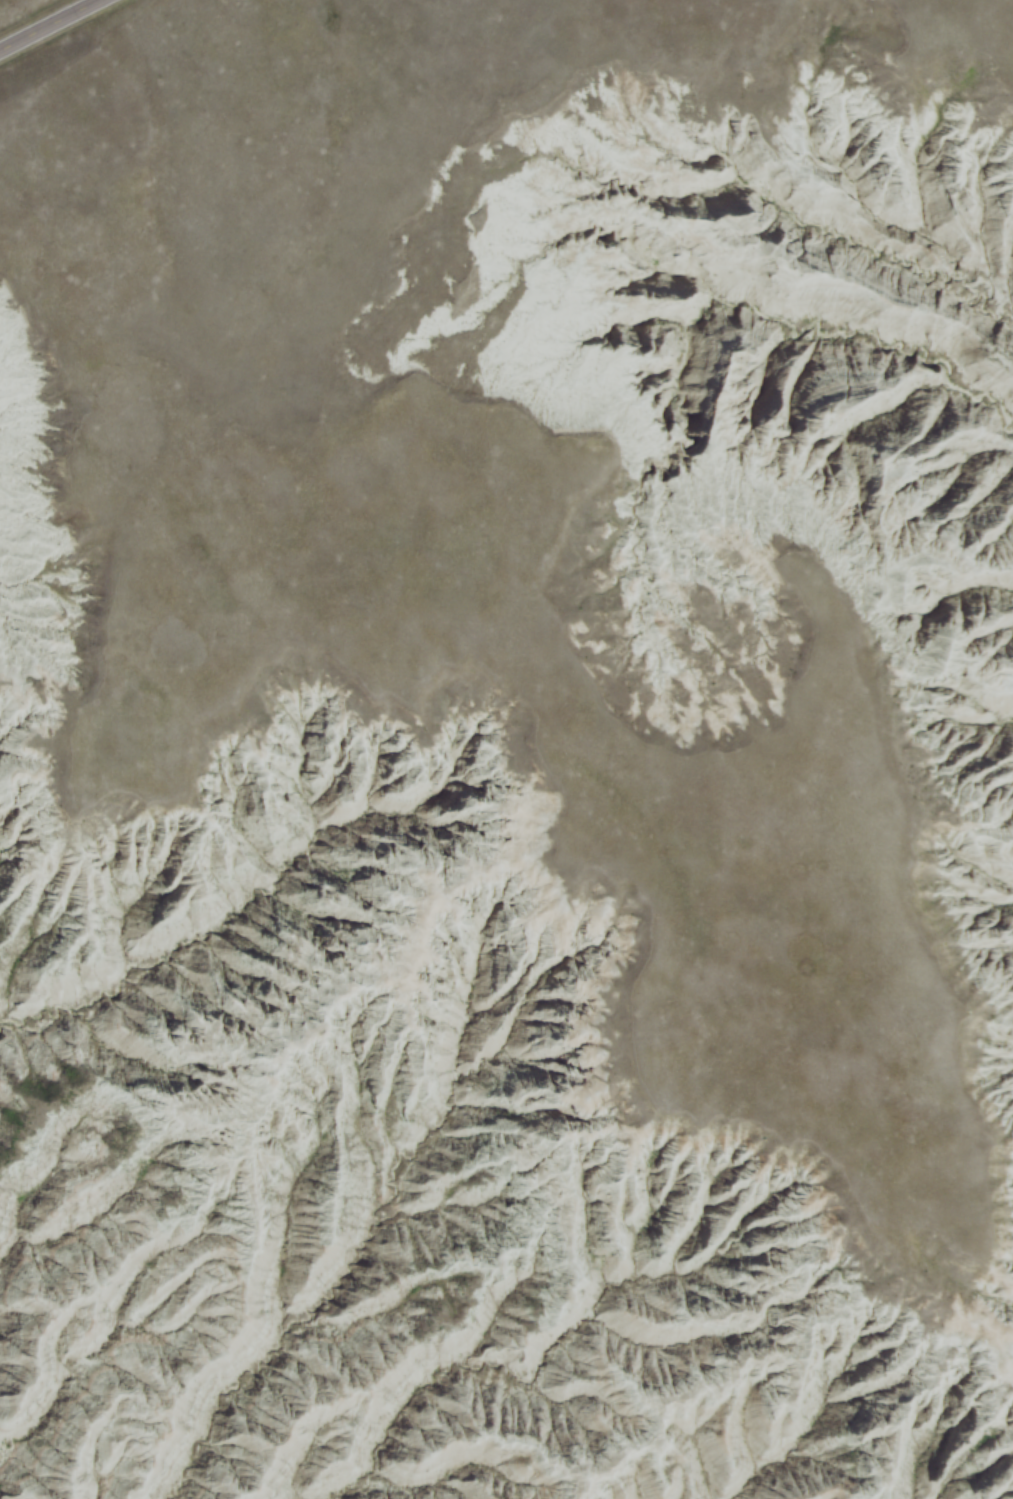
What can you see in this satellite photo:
road: (47, 24)

